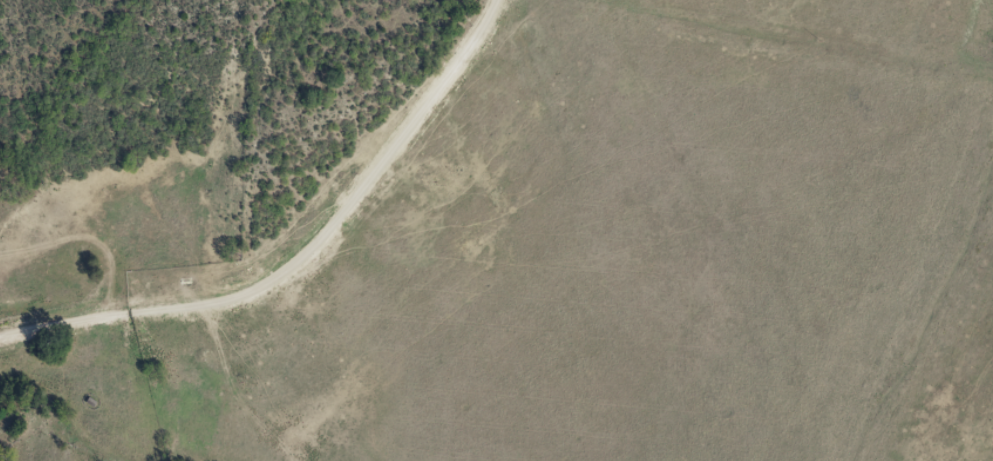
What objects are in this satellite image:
road: (313, 267)

